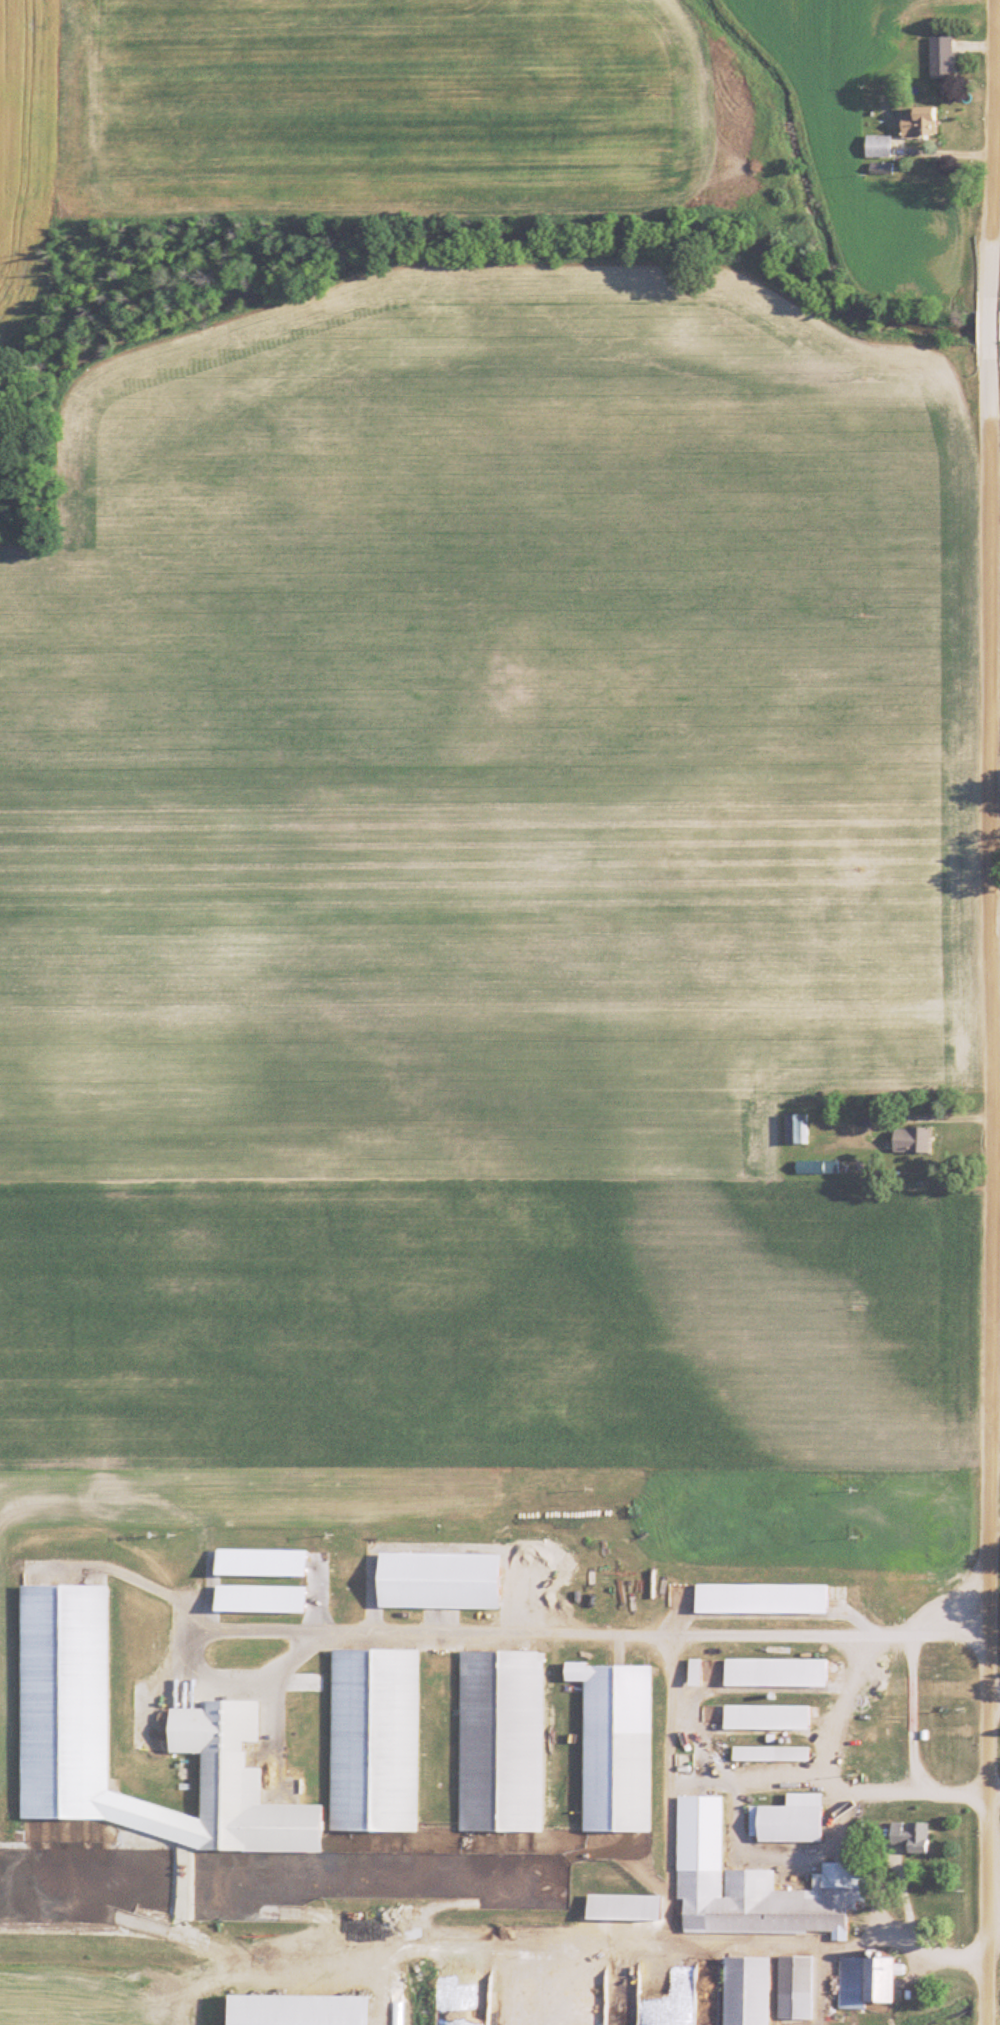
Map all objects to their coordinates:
building: (939, 58)
building: (917, 122)
road: (990, 137)
building: (876, 146)
river: (498, 240)
road: (991, 323)
road: (996, 922)
building: (794, 1129)
building: (909, 1140)
road: (990, 1197)
road: (994, 1522)
road: (510, 1631)
building: (692, 1672)
building: (773, 1673)
road: (993, 1689)
road: (993, 1694)
building: (764, 1718)
road: (827, 1728)
building: (372, 1741)
building: (499, 1741)
building: (613, 1747)
building: (769, 1754)
road: (993, 1785)
building: (787, 1820)
building: (908, 1836)
building: (769, 1900)
building: (621, 1909)
road: (677, 1933)
building: (864, 1983)
building: (793, 1988)
building: (744, 1991)

